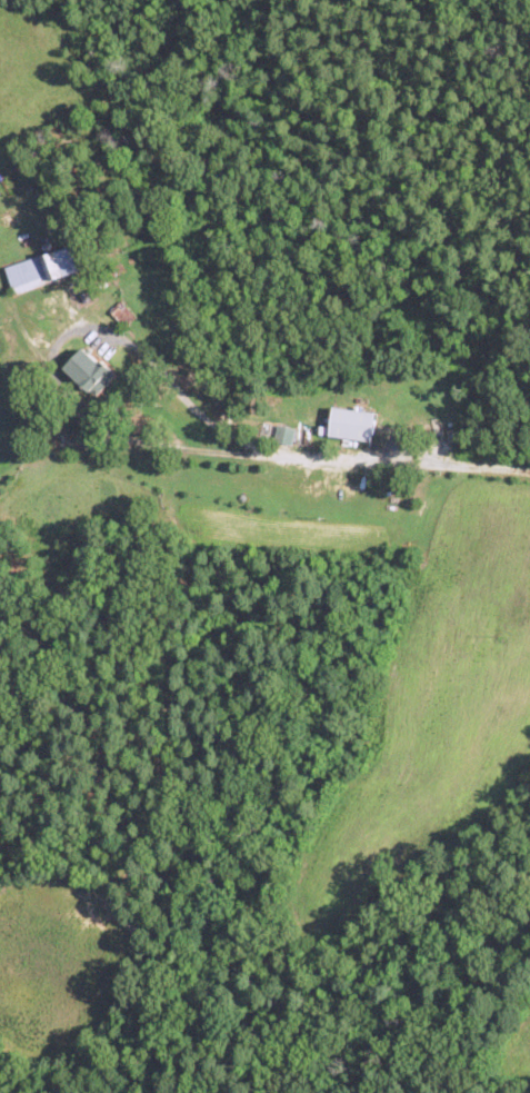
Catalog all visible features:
building: (44, 268)
road: (54, 349)
building: (91, 370)
building: (353, 423)
building: (286, 434)
road: (394, 459)

